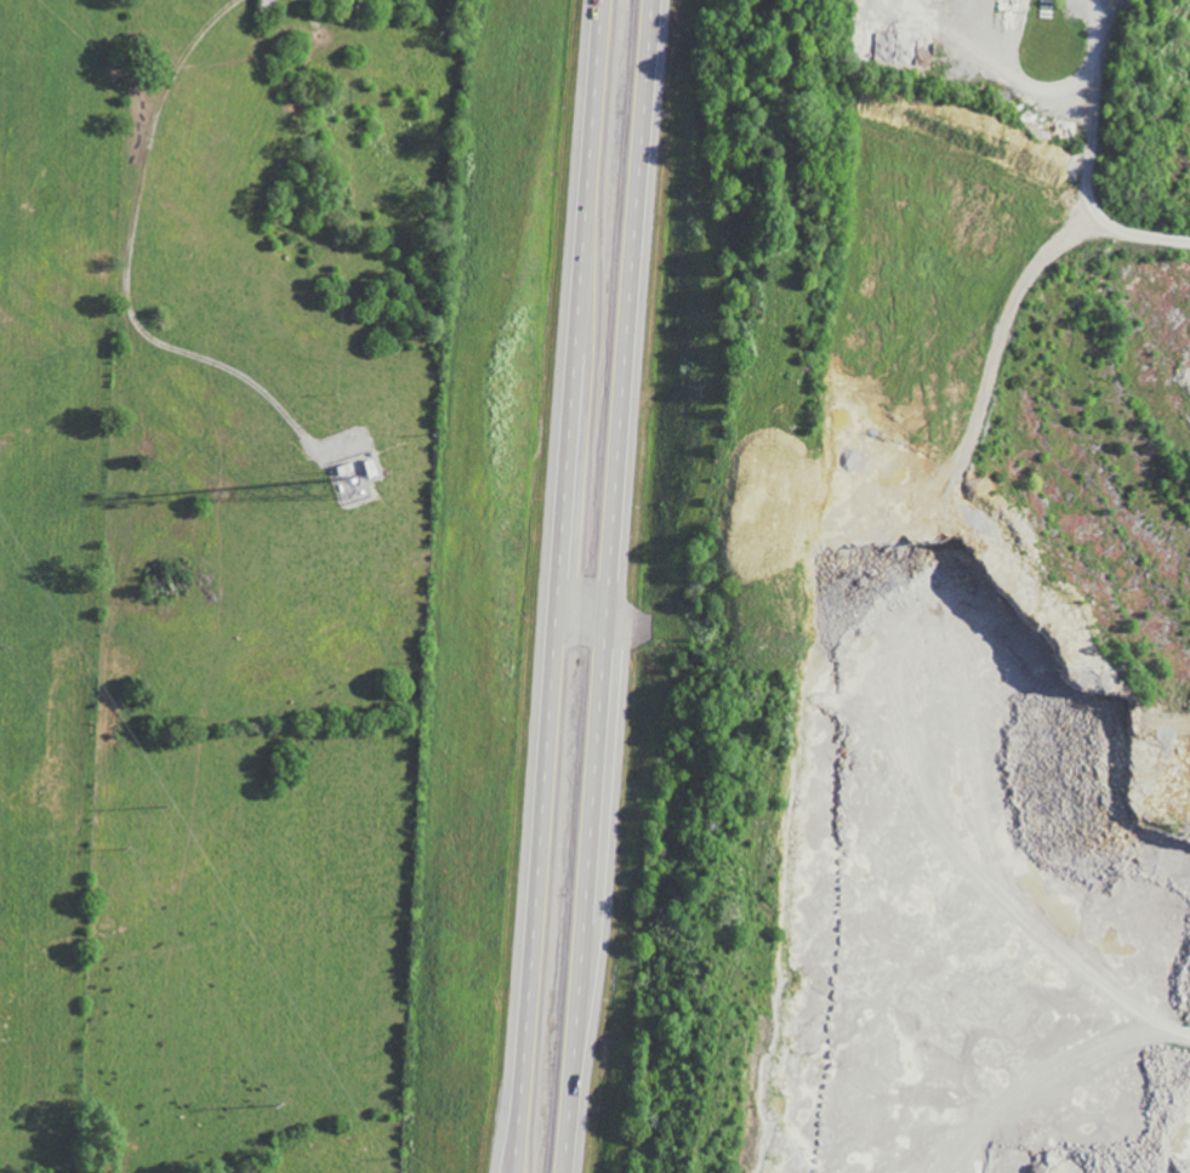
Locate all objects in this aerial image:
road: (1083, 76)
road: (559, 586)
road: (611, 586)
quarry: (916, 604)

